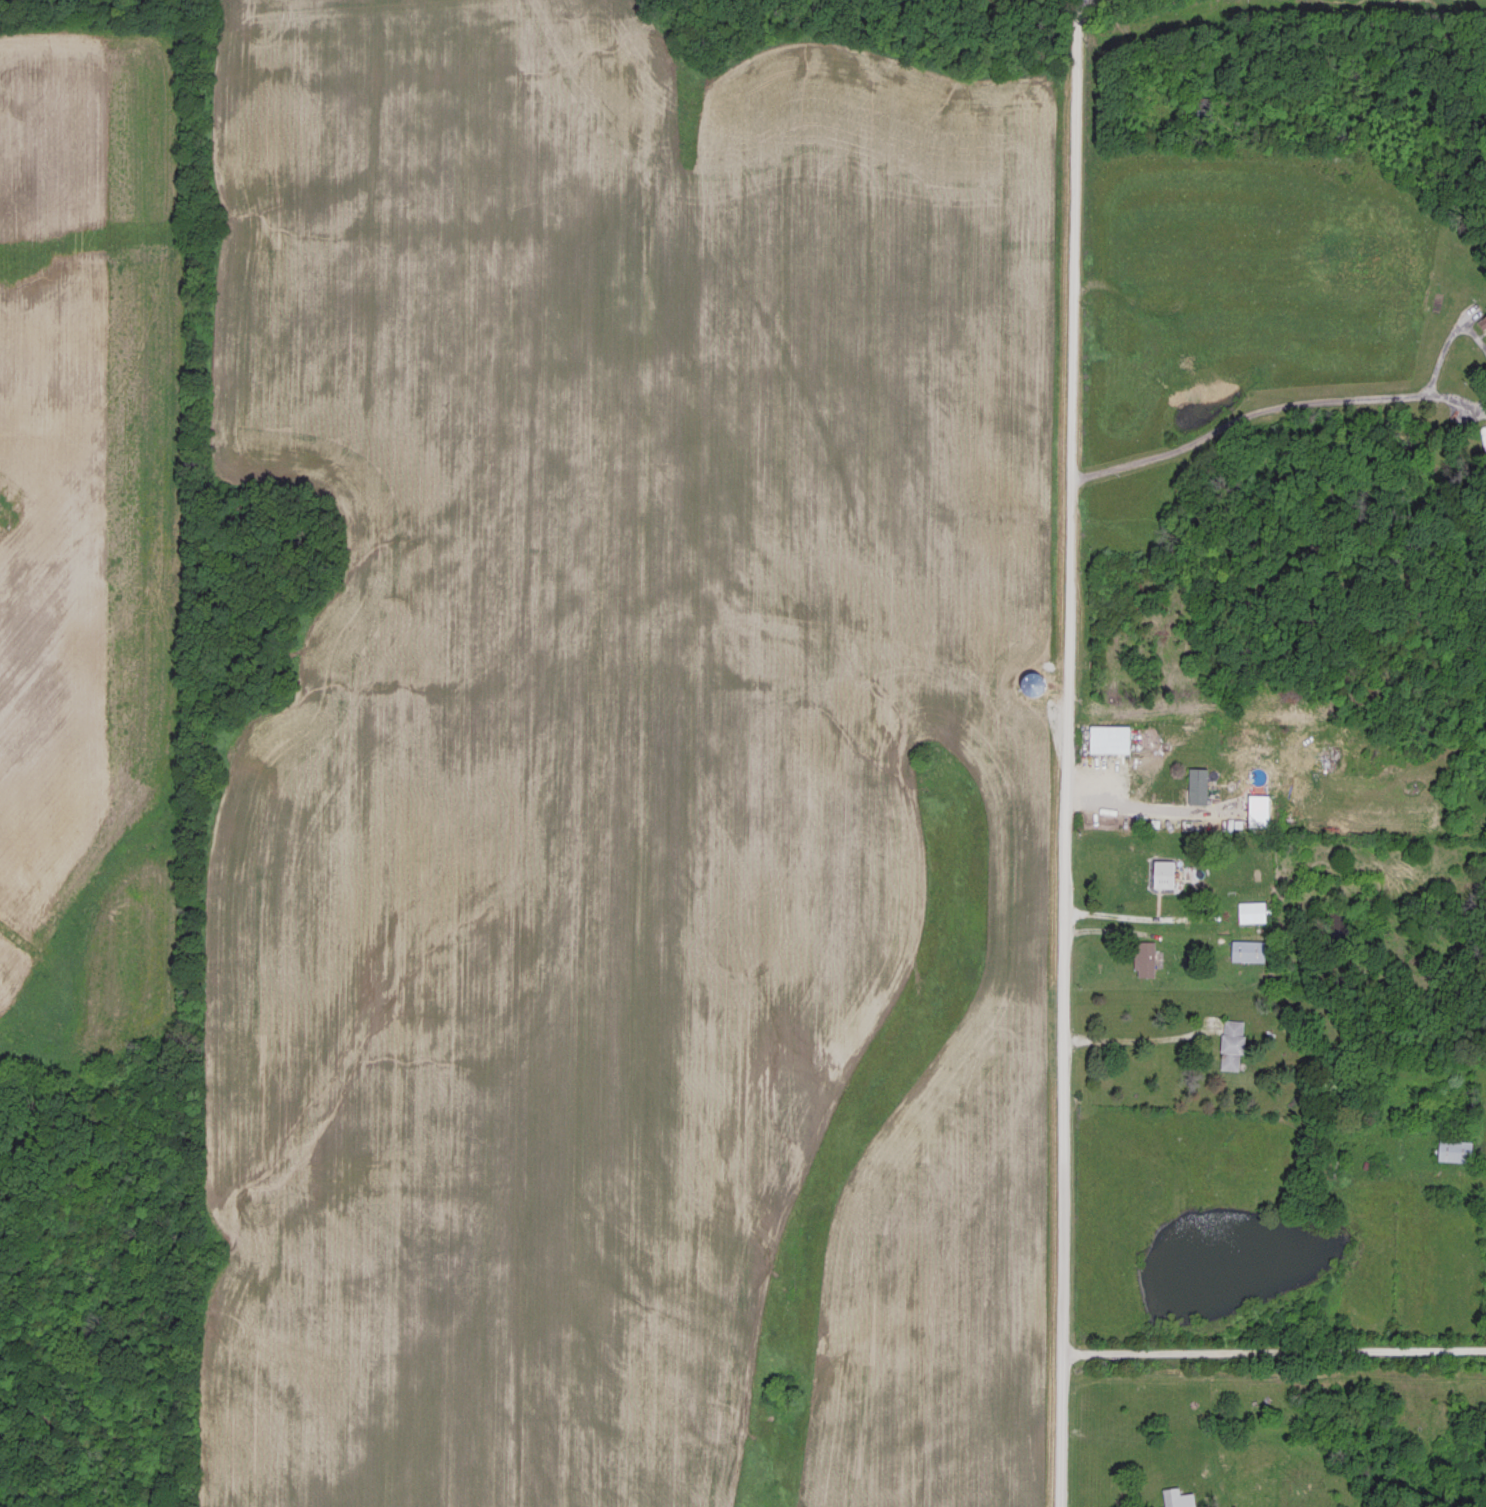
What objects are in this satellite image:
building: (1484, 320)
road: (1273, 410)
road: (1065, 753)
building: (1199, 784)
road: (1141, 807)
building: (1156, 872)
building: (1252, 910)
building: (1249, 949)
building: (1145, 956)
road: (1143, 1038)
building: (1234, 1042)
building: (1456, 1149)
road: (1273, 1352)
building: (1179, 1497)

